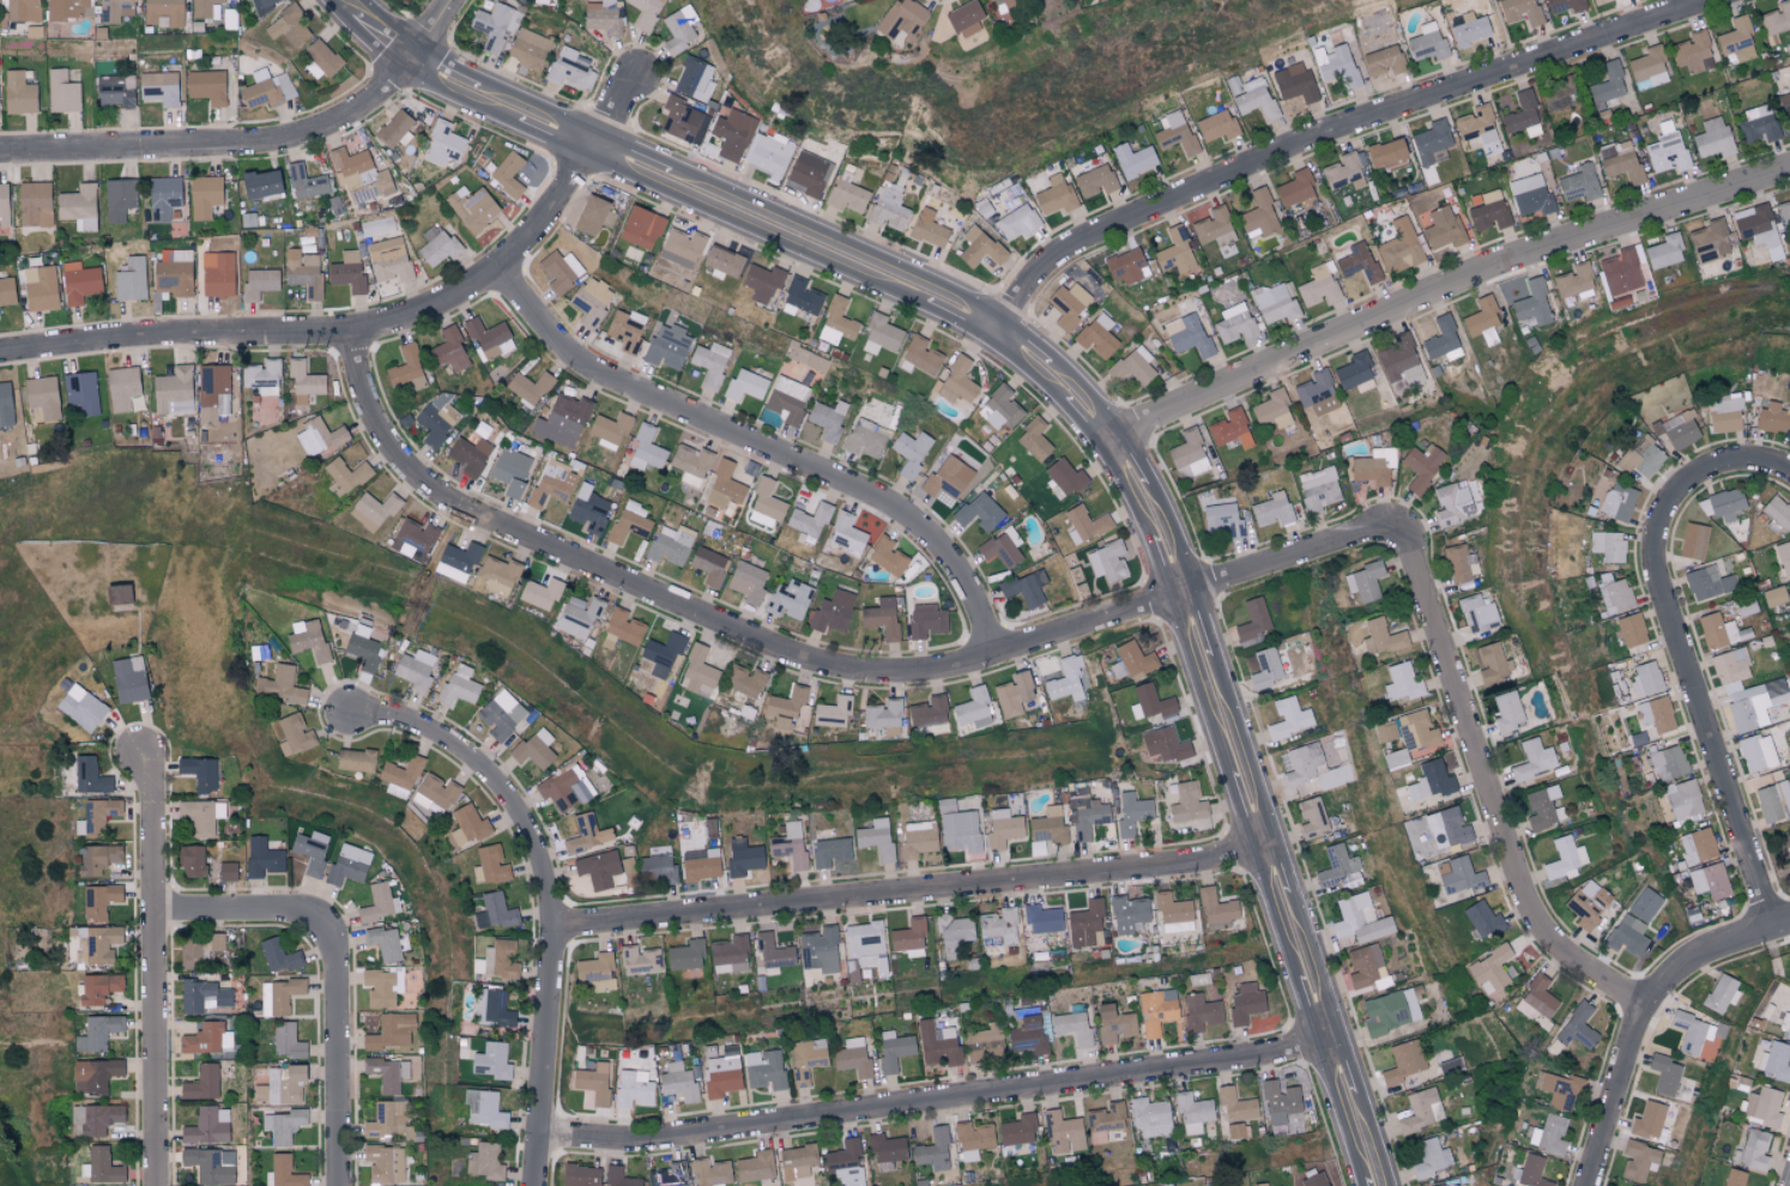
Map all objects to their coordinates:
building: (1598, 1)
building: (265, 5)
building: (999, 6)
building: (1565, 6)
building: (202, 8)
building: (23, 10)
building: (68, 10)
building: (117, 11)
building: (164, 12)
building: (1519, 12)
building: (645, 13)
building: (603, 17)
building: (966, 18)
building: (1776, 18)
building: (902, 19)
building: (495, 25)
building: (286, 26)
road: (380, 28)
road: (431, 28)
building: (679, 29)
building: (1468, 29)
building: (1736, 40)
building: (1427, 42)
building: (527, 48)
building: (1693, 52)
building: (320, 59)
building: (1383, 61)
building: (1337, 65)
building: (1647, 67)
building: (570, 69)
building: (694, 79)
building: (1294, 81)
building: (1607, 84)
building: (206, 86)
building: (159, 87)
building: (267, 90)
building: (114, 91)
building: (61, 92)
building: (18, 93)
building: (1558, 93)
building: (1256, 98)
building: (1785, 105)
building: (1522, 115)
building: (681, 119)
building: (1758, 123)
building: (1216, 125)
building: (1476, 125)
building: (394, 128)
road: (1331, 131)
building: (1174, 133)
building: (733, 134)
building: (1712, 137)
road: (219, 143)
building: (1432, 143)
building: (441, 144)
building: (1667, 151)
building: (1386, 152)
building: (770, 156)
building: (1133, 159)
building: (1620, 161)
building: (1524, 168)
building: (1342, 171)
building: (359, 174)
building: (507, 174)
building: (808, 174)
building: (1093, 176)
building: (306, 181)
building: (259, 182)
building: (1579, 183)
building: (1295, 188)
building: (1054, 194)
building: (204, 195)
building: (1530, 195)
building: (163, 196)
building: (120, 198)
building: (34, 204)
building: (4, 205)
building: (79, 206)
building: (471, 207)
building: (889, 207)
building: (1489, 212)
building: (1784, 212)
building: (589, 214)
building: (1258, 214)
building: (1016, 222)
building: (376, 225)
building: (641, 226)
building: (1214, 226)
building: (929, 228)
building: (1443, 228)
building: (1758, 228)
building: (1709, 241)
building: (437, 244)
building: (681, 247)
building: (979, 247)
building: (1399, 247)
building: (1175, 250)
building: (1664, 250)
building: (388, 259)
building: (722, 261)
building: (1356, 261)
building: (1125, 265)
building: (560, 270)
building: (303, 271)
building: (174, 272)
building: (346, 272)
building: (1620, 272)
building: (217, 274)
building: (131, 278)
building: (1574, 280)
building: (79, 282)
building: (259, 282)
building: (762, 282)
building: (1318, 285)
road: (1443, 286)
building: (40, 288)
building: (6, 291)
building: (802, 296)
building: (591, 299)
building: (1276, 302)
building: (1531, 303)
building: (1069, 304)
building: (1481, 315)
building: (836, 322)
building: (1234, 323)
road: (374, 327)
building: (625, 329)
building: (879, 334)
building: (1187, 334)
building: (1097, 335)
building: (489, 338)
building: (1441, 339)
building: (667, 346)
building: (449, 350)
building: (919, 356)
building: (1399, 361)
building: (710, 363)
building: (405, 365)
building: (1133, 365)
building: (1353, 370)
building: (261, 376)
building: (304, 377)
building: (957, 381)
building: (746, 383)
building: (530, 386)
building: (121, 387)
building: (1314, 387)
building: (81, 391)
building: (174, 391)
building: (213, 392)
building: (43, 395)
building: (784, 403)
building: (5, 404)
building: (999, 409)
building: (1272, 410)
building: (1724, 413)
building: (1774, 417)
building: (828, 418)
building: (435, 419)
building: (562, 419)
building: (1680, 429)
building: (609, 430)
road: (1105, 435)
building: (319, 436)
building: (865, 437)
building: (1033, 438)
road: (764, 448)
building: (645, 450)
building: (911, 450)
building: (470, 454)
building: (1189, 454)
building: (1640, 456)
road: (1753, 461)
building: (690, 464)
building: (1373, 466)
building: (1421, 466)
building: (510, 471)
building: (345, 476)
building: (948, 476)
building: (1063, 478)
building: (551, 485)
building: (724, 486)
building: (1318, 488)
building: (1617, 502)
building: (766, 503)
building: (1452, 503)
building: (1722, 504)
building: (1272, 509)
building: (373, 510)
building: (587, 510)
building: (978, 510)
building: (1777, 514)
building: (1223, 520)
building: (629, 521)
building: (809, 522)
building: (1086, 524)
building: (846, 532)
building: (413, 539)
building: (1693, 540)
building: (669, 545)
building: (1607, 545)
building: (1002, 547)
building: (887, 556)
building: (1783, 557)
building: (456, 561)
building: (1108, 561)
building: (1457, 563)
building: (709, 565)
building: (498, 575)
building: (748, 581)
building: (1365, 581)
building: (1707, 582)
building: (1026, 587)
building: (117, 593)
building: (540, 593)
building: (1615, 595)
building: (1774, 595)
building: (788, 599)
building: (831, 611)
building: (1477, 613)
building: (579, 616)
building: (881, 617)
building: (925, 619)
building: (1253, 619)
building: (623, 625)
building: (1629, 629)
building: (1717, 630)
building: (1381, 637)
building: (308, 639)
building: (663, 648)
building: (364, 652)
building: (1132, 661)
road: (816, 662)
building: (1492, 662)
building: (415, 668)
building: (1268, 668)
building: (699, 670)
building: (128, 679)
building: (744, 679)
building: (1645, 679)
building: (1066, 680)
building: (1402, 682)
building: (1287, 683)
building: (459, 684)
road: (1694, 684)
building: (279, 685)
building: (1022, 685)
building: (1746, 691)
building: (1006, 700)
building: (1150, 702)
building: (80, 707)
building: (785, 707)
building: (973, 708)
building: (831, 712)
building: (1506, 712)
building: (501, 714)
building: (930, 714)
building: (1656, 714)
building: (883, 715)
building: (1289, 718)
building: (1416, 730)
building: (292, 734)
building: (1163, 744)
building: (534, 748)
building: (1756, 752)
building: (1395, 758)
building: (355, 760)
building: (1532, 760)
building: (1668, 762)
building: (1302, 764)
building: (199, 773)
building: (89, 776)
building: (400, 776)
building: (1429, 781)
building: (558, 788)
road: (1489, 789)
building: (436, 793)
building: (1683, 799)
building: (1773, 800)
building: (1187, 803)
building: (1541, 807)
building: (1131, 813)
building: (1086, 815)
building: (97, 816)
building: (201, 816)
building: (1311, 817)
building: (467, 824)
building: (1047, 825)
building: (957, 827)
building: (1003, 828)
building: (1446, 829)
building: (586, 834)
building: (876, 837)
building: (917, 839)
building: (788, 845)
building: (1699, 846)
building: (312, 851)
building: (829, 851)
building: (743, 857)
building: (97, 858)
building: (262, 858)
building: (192, 859)
building: (1565, 859)
building: (349, 864)
building: (700, 864)
building: (489, 865)
building: (657, 865)
building: (598, 869)
building: (1341, 869)
building: (226, 871)
building: (1459, 877)
building: (1710, 881)
road: (908, 891)
road: (550, 895)
building: (99, 900)
building: (379, 903)
building: (1586, 903)
road: (238, 908)
building: (1216, 910)
building: (494, 912)
building: (1173, 913)
building: (1129, 914)
building: (1042, 919)
building: (1360, 919)
building: (1482, 919)
building: (1084, 922)
building: (998, 927)
building: (954, 934)
building: (1627, 934)
building: (909, 937)
building: (383, 943)
building: (97, 944)
building: (865, 944)
building: (198, 948)
building: (820, 950)
building: (773, 952)
building: (685, 955)
building: (728, 955)
building: (278, 956)
building: (497, 960)
building: (640, 960)
building: (1365, 966)
road: (153, 968)
building: (1489, 969)
building: (595, 972)
building: (382, 986)
building: (98, 987)
building: (1722, 993)
building: (201, 996)
building: (278, 996)
building: (1536, 998)
building: (1245, 1003)
building: (492, 1008)
building: (1156, 1010)
building: (1389, 1010)
building: (1201, 1012)
road: (1643, 1013)
building: (1113, 1024)
building: (1784, 1024)
building: (1072, 1027)
building: (1577, 1027)
building: (389, 1031)
building: (1692, 1031)
building: (98, 1033)
building: (1028, 1035)
building: (207, 1039)
building: (286, 1040)
building: (985, 1040)
building: (937, 1045)
road: (340, 1049)
building: (894, 1049)
building: (806, 1057)
building: (852, 1058)
building: (491, 1060)
building: (1402, 1061)
building: (1774, 1061)
building: (764, 1070)
building: (387, 1073)
building: (722, 1073)
building: (95, 1075)
building: (1664, 1075)
building: (678, 1082)
building: (201, 1083)
building: (594, 1083)
building: (280, 1084)
building: (633, 1089)
building: (1560, 1091)
road: (936, 1100)
building: (1280, 1101)
building: (1235, 1106)
building: (1762, 1106)
building: (484, 1108)
building: (1421, 1109)
building: (1193, 1113)
building: (1150, 1117)
building: (97, 1118)
building: (1647, 1120)
building: (389, 1123)
building: (1105, 1123)
building: (283, 1125)
building: (1289, 1125)
building: (207, 1126)
building: (1017, 1130)
building: (1234, 1130)
building: (1064, 1132)
building: (1548, 1134)
building: (973, 1139)
building: (933, 1150)
building: (1754, 1150)
building: (887, 1151)
building: (1431, 1158)
building: (798, 1160)
building: (484, 1161)
building: (1638, 1161)
building: (385, 1163)
building: (846, 1163)
building: (210, 1164)
building: (101, 1166)
building: (755, 1166)
building: (1529, 1172)
building: (710, 1173)
building: (580, 1175)
building: (669, 1175)
building: (618, 1178)
building: (1734, 1178)
building: (1313, 1180)
building: (1259, 1184)
building: (1169, 1185)
building: (1443, 1185)
building: (1629, 1185)

